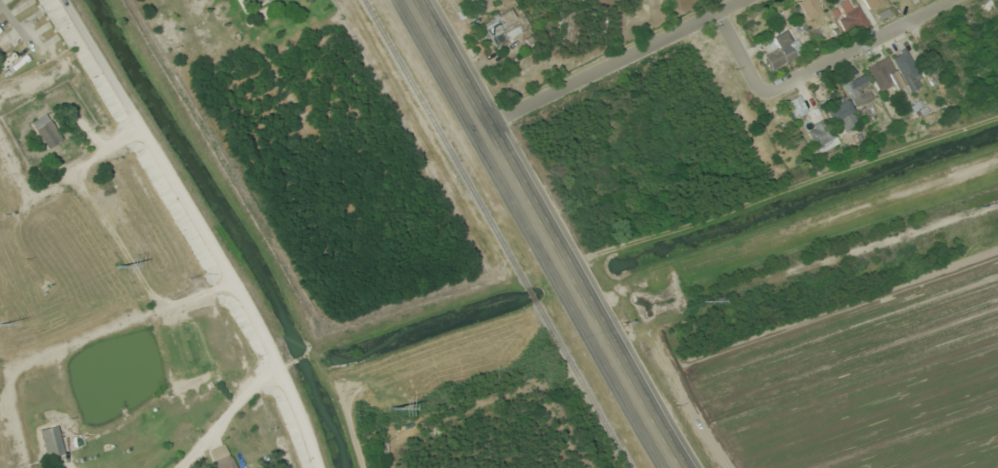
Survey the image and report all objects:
building: (258, 1)
building: (871, 3)
building: (809, 8)
building: (851, 19)
road: (17, 25)
building: (504, 25)
building: (4, 44)
building: (778, 49)
road: (610, 62)
road: (817, 68)
building: (906, 69)
building: (882, 75)
building: (857, 91)
building: (795, 106)
building: (839, 110)
building: (45, 130)
building: (820, 135)
road: (193, 230)
railway: (497, 233)
road: (544, 234)
road: (186, 299)
road: (225, 415)
building: (49, 441)
building: (220, 457)
road: (67, 465)

